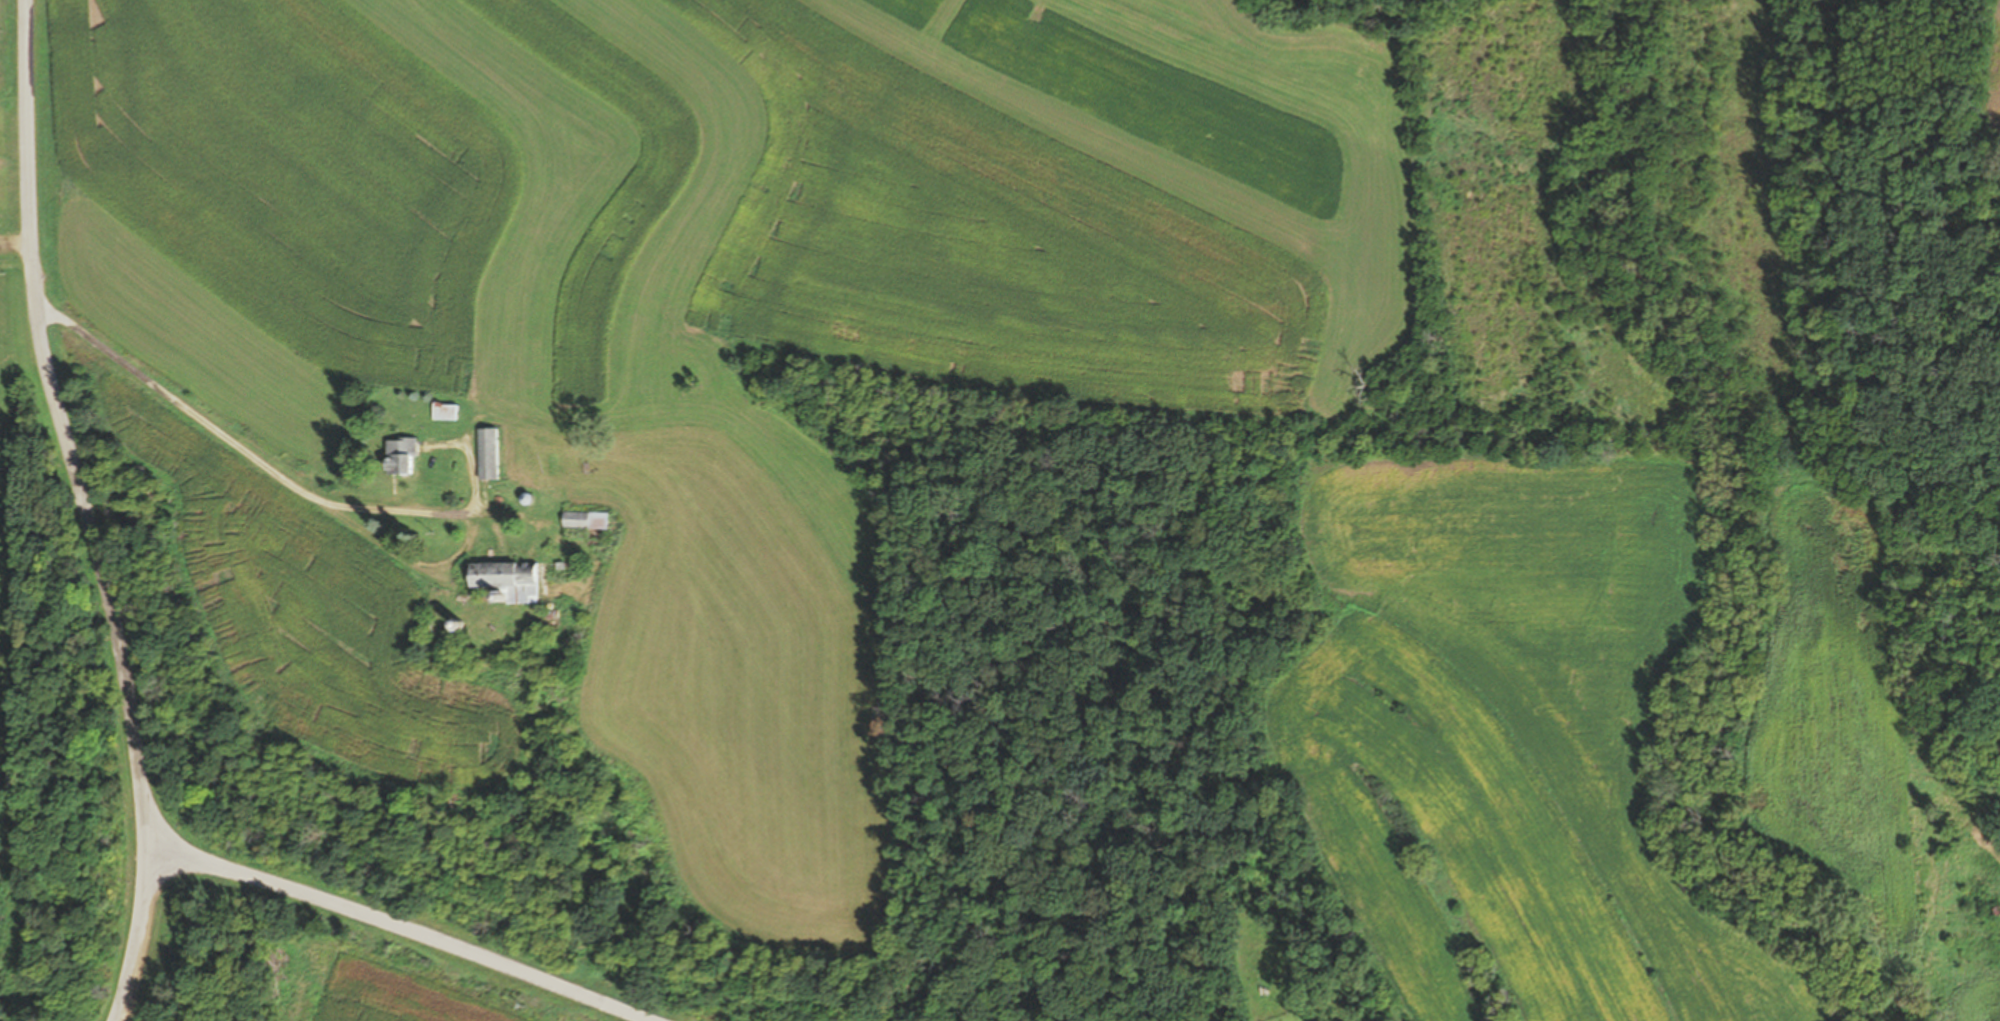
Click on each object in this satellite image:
building: (444, 411)
road: (245, 438)
building: (487, 453)
building: (399, 455)
road: (84, 512)
building: (583, 519)
building: (505, 579)
road: (398, 925)

